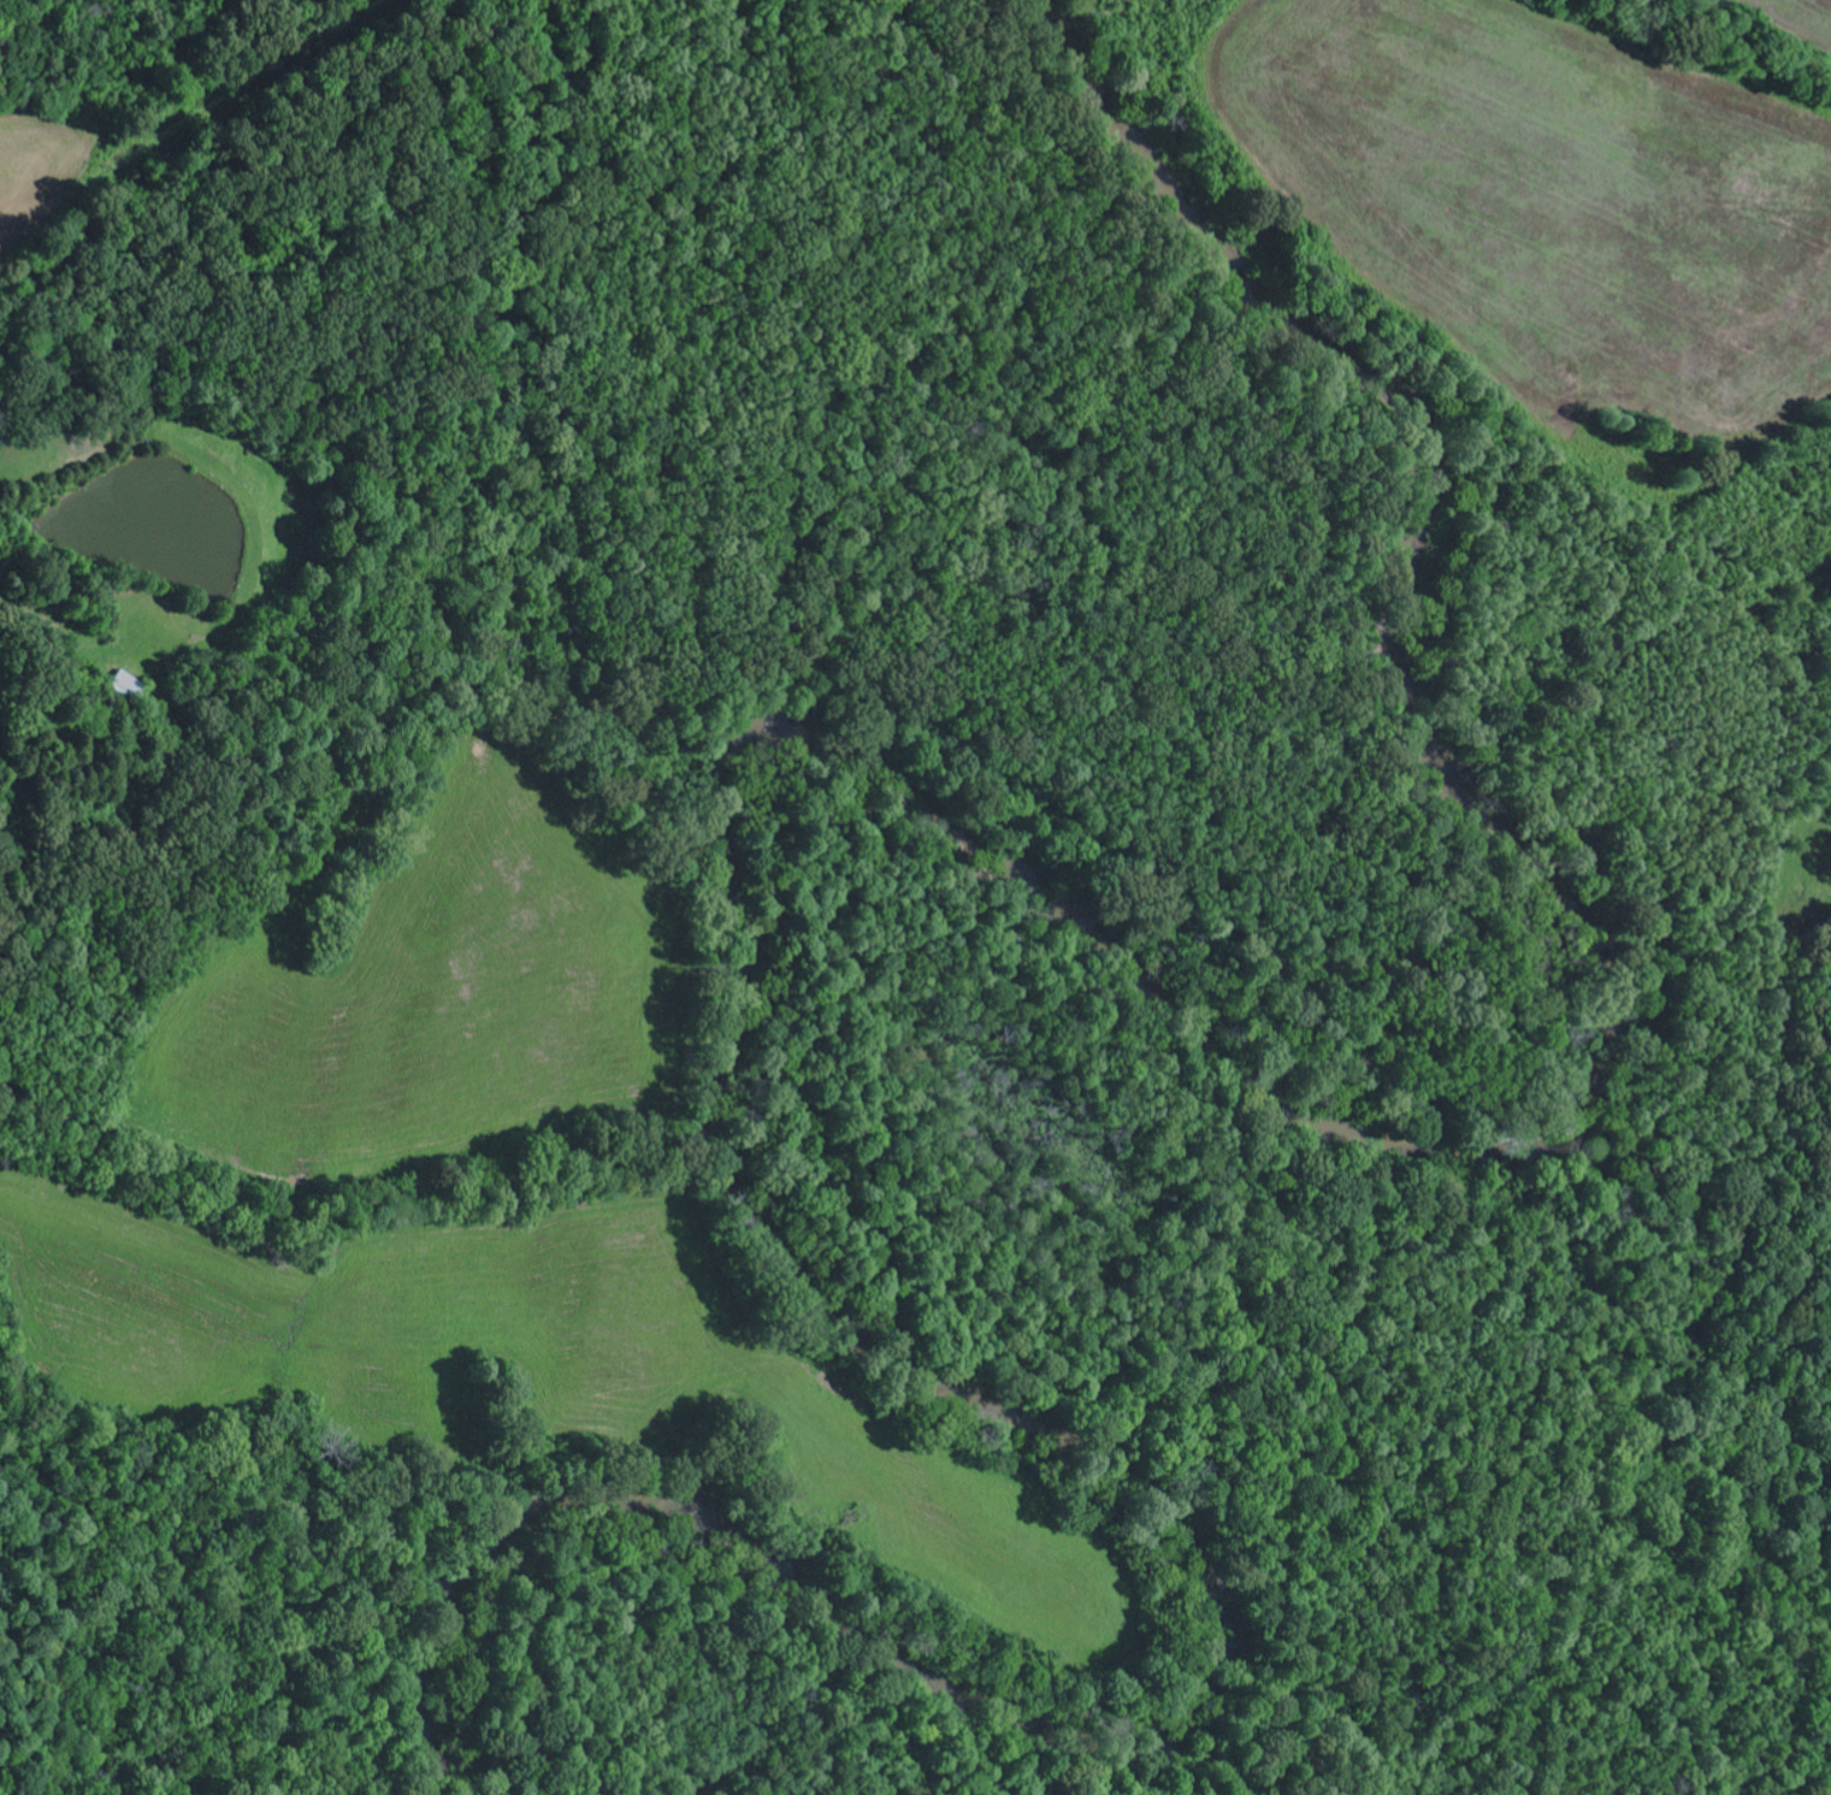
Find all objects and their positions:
crop: (124, 96)
river: (738, 742)

